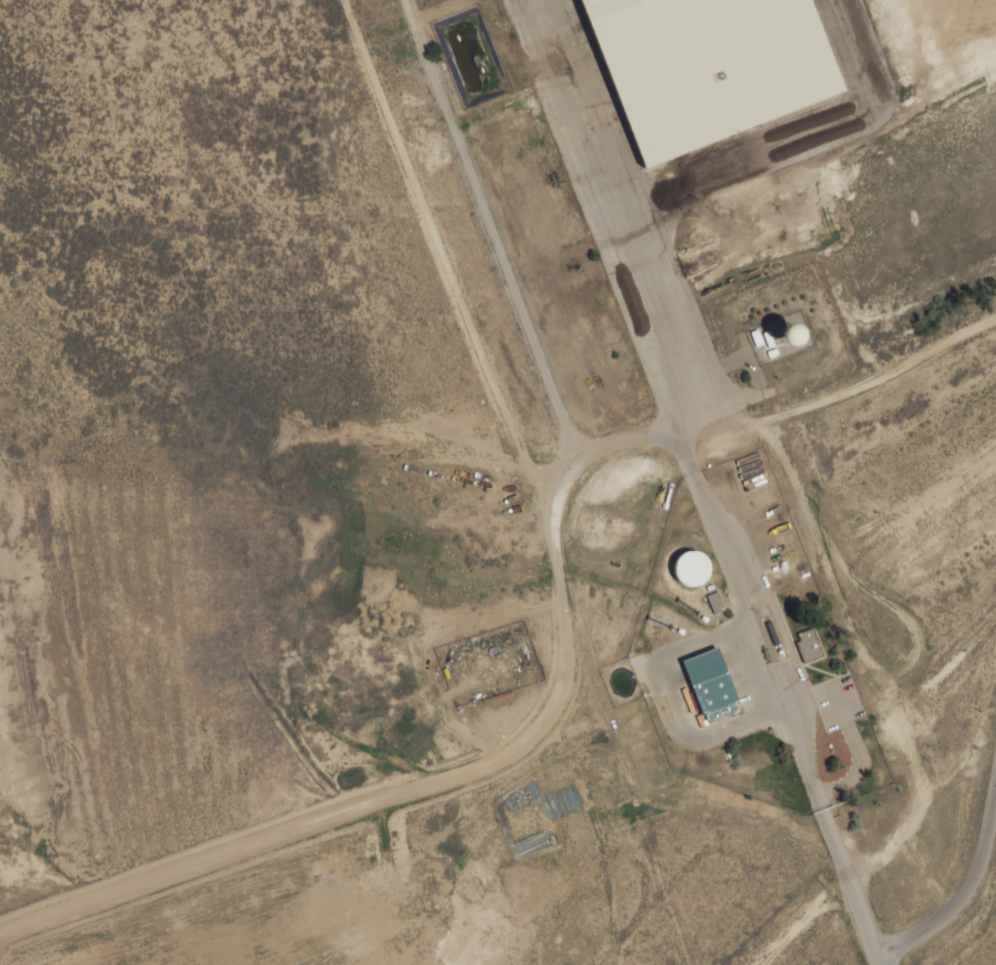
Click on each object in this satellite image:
building: (706, 62)
road: (509, 274)
road: (701, 482)
building: (688, 563)
storage tank: (688, 563)
building: (715, 604)
building: (809, 646)
building: (721, 681)
road: (963, 899)

